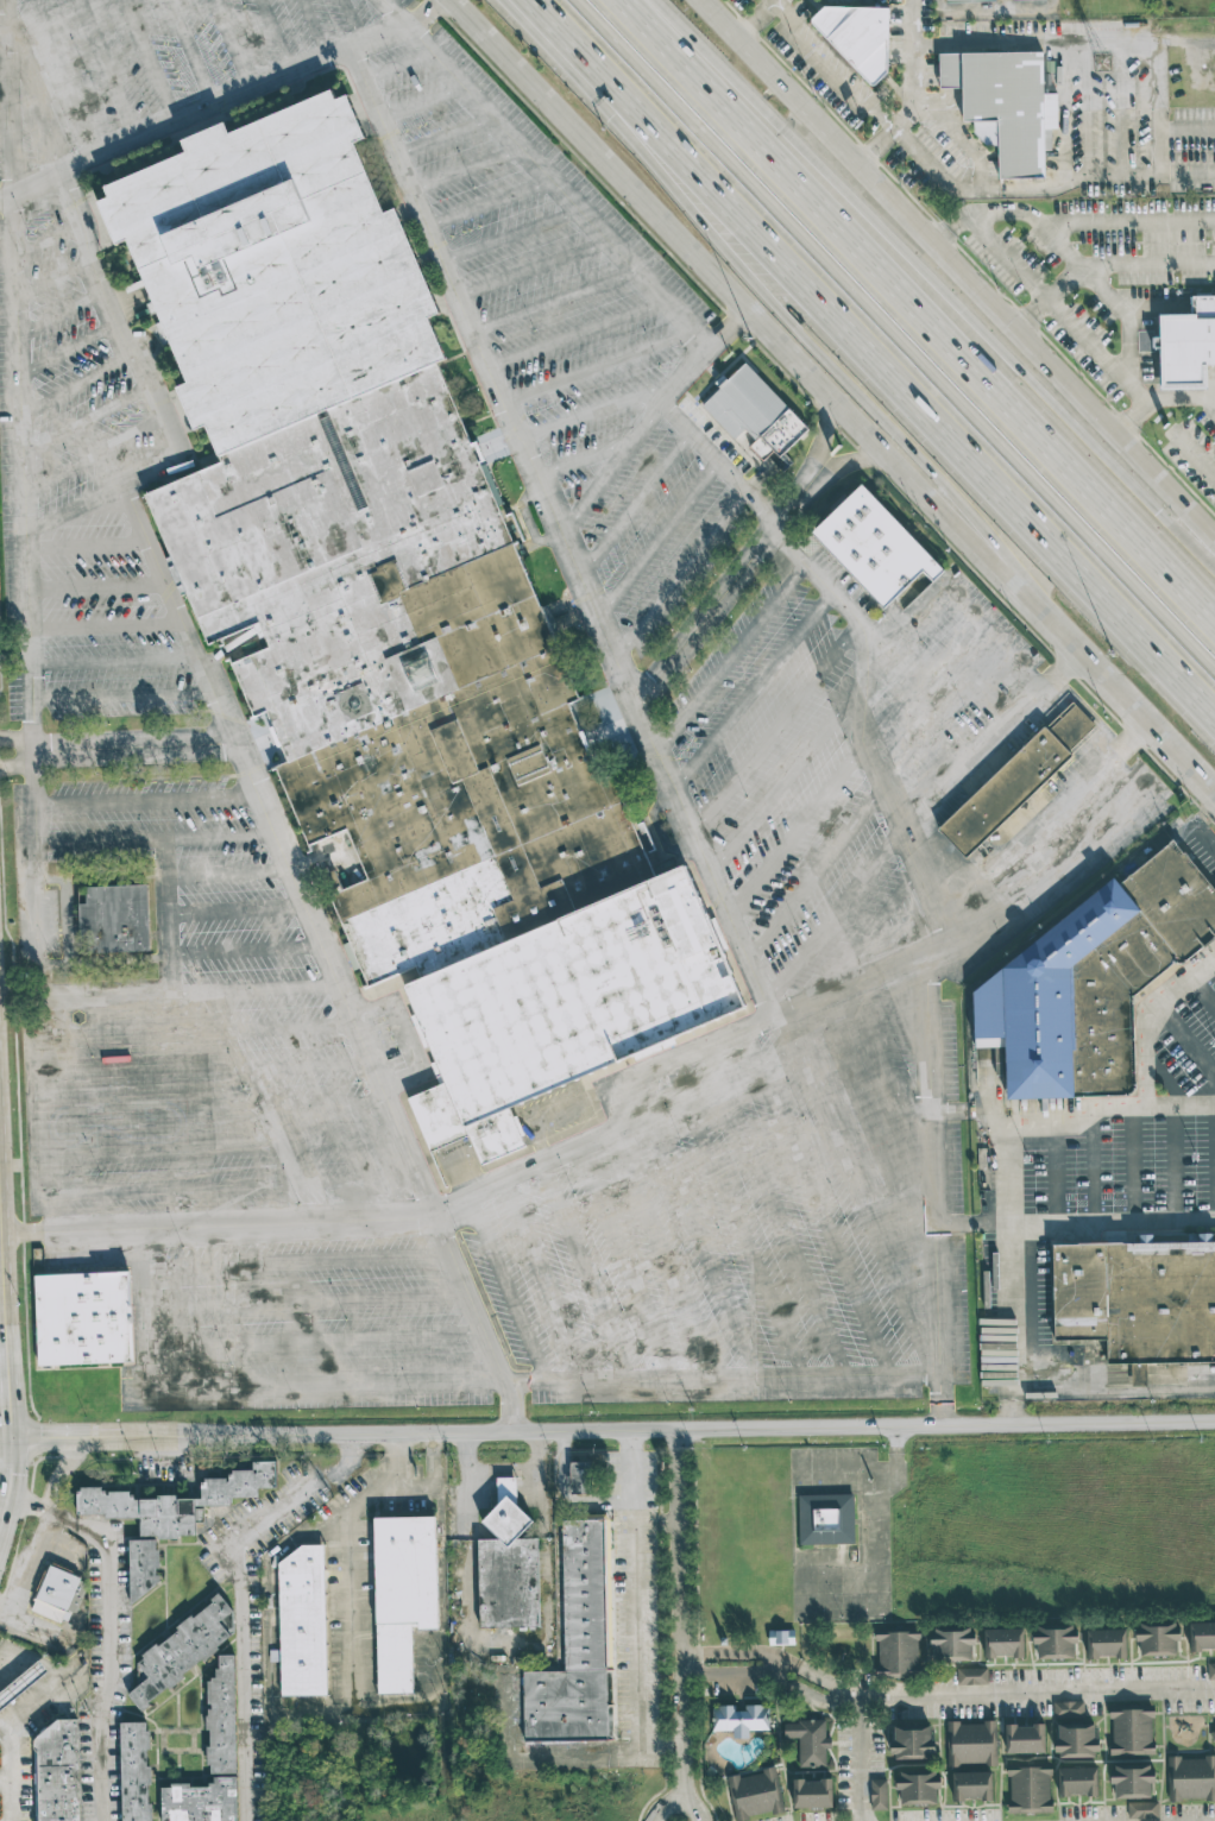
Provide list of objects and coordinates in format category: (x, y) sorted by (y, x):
building: (965, 0)
building: (1022, 0)
road: (774, 5)
road: (395, 12)
road: (718, 19)
road: (351, 21)
road: (313, 29)
road: (2, 31)
building: (856, 34)
road: (275, 36)
road: (987, 39)
road: (1153, 39)
road: (233, 44)
road: (562, 48)
road: (189, 51)
road: (147, 59)
power tower: (1102, 62)
road: (396, 64)
road: (106, 68)
road: (65, 75)
road: (833, 82)
road: (33, 101)
road: (421, 102)
building: (1003, 111)
road: (1188, 132)
road: (443, 137)
road: (920, 152)
road: (465, 170)
road: (1184, 176)
road: (30, 185)
road: (487, 202)
road: (510, 237)
road: (48, 240)
road: (531, 269)
building: (273, 271)
road: (932, 273)
road: (51, 279)
road: (980, 283)
road: (726, 288)
road: (553, 301)
road: (925, 305)
road: (1104, 309)
road: (58, 315)
road: (728, 329)
road: (575, 334)
road: (807, 335)
road: (895, 338)
building: (1188, 346)
road: (65, 349)
road: (1104, 355)
road: (597, 367)
road: (18, 374)
road: (78, 383)
road: (1162, 399)
road: (1211, 402)
road: (600, 407)
building: (754, 414)
road: (912, 416)
road: (86, 418)
road: (700, 443)
road: (820, 446)
road: (94, 455)
road: (584, 456)
road: (846, 465)
road: (610, 468)
road: (634, 504)
road: (74, 508)
road: (560, 531)
road: (656, 540)
road: (86, 544)
building: (874, 547)
road: (679, 575)
road: (95, 586)
road: (957, 599)
road: (717, 600)
road: (106, 625)
road: (15, 651)
road: (730, 659)
road: (113, 661)
road: (1070, 669)
building: (403, 675)
road: (923, 682)
road: (1110, 683)
road: (753, 691)
road: (122, 694)
road: (945, 718)
road: (775, 727)
building: (1070, 727)
road: (17, 742)
road: (136, 746)
road: (245, 757)
road: (982, 760)
road: (18, 762)
parking lot: (467, 765)
road: (787, 775)
building: (1003, 792)
road: (33, 796)
road: (147, 800)
road: (1049, 821)
road: (797, 831)
road: (220, 837)
road: (99, 840)
road: (228, 874)
road: (816, 874)
road: (238, 909)
road: (835, 916)
building: (114, 919)
road: (38, 920)
road: (871, 931)
road: (246, 950)
road: (256, 988)
road: (159, 991)
building: (1102, 991)
road: (1202, 996)
building: (564, 1006)
road: (1154, 1022)
road: (284, 1028)
road: (407, 1038)
road: (1186, 1044)
road: (298, 1066)
road: (226, 1069)
road: (892, 1079)
road: (313, 1104)
road: (1072, 1115)
road: (46, 1119)
road: (874, 1140)
parking lot: (1140, 1141)
road: (225, 1147)
road: (1172, 1167)
road: (1214, 1167)
road: (1131, 1168)
road: (1055, 1170)
road: (1090, 1170)
road: (234, 1186)
road: (933, 1187)
road: (856, 1193)
road: (816, 1202)
road: (0, 1208)
road: (775, 1210)
road: (737, 1218)
road: (1074, 1224)
road: (219, 1230)
road: (699, 1241)
road: (663, 1254)
road: (296, 1260)
road: (624, 1262)
road: (583, 1271)
road: (1012, 1271)
road: (2, 1273)
road: (543, 1279)
road: (506, 1288)
road: (307, 1300)
building: (1137, 1300)
road: (7, 1313)
road: (4, 1316)
building: (83, 1318)
road: (146, 1318)
road: (315, 1340)
road: (5, 1353)
road: (632, 1379)
road: (496, 1382)
road: (323, 1385)
road: (1115, 1390)
road: (512, 1405)
road: (6, 1409)
road: (613, 1428)
road: (397, 1458)
road: (440, 1460)
road: (7, 1464)
road: (59, 1472)
building: (579, 1476)
road: (877, 1483)
road: (24, 1501)
building: (175, 1501)
building: (825, 1518)
road: (470, 1542)
road: (879, 1562)
road: (29, 1563)
building: (141, 1565)
building: (508, 1565)
road: (684, 1590)
building: (56, 1593)
building: (402, 1594)
road: (640, 1594)
building: (593, 1595)
road: (241, 1601)
parking lot: (641, 1607)
road: (348, 1612)
building: (302, 1621)
road: (31, 1624)
building: (1202, 1636)
building: (780, 1637)
building: (1157, 1637)
building: (1053, 1639)
building: (1002, 1642)
building: (951, 1643)
building: (1106, 1643)
road: (107, 1647)
building: (183, 1650)
building: (896, 1653)
road: (741, 1658)
building: (1210, 1670)
building: (971, 1675)
road: (1000, 1699)
building: (571, 1706)
road: (359, 1709)
building: (221, 1718)
building: (739, 1719)
building: (1072, 1731)
building: (1131, 1732)
building: (1213, 1734)
building: (1024, 1738)
building: (808, 1740)
building: (912, 1741)
building: (970, 1743)
road: (546, 1759)
road: (860, 1760)
building: (133, 1771)
building: (56, 1772)
road: (10, 1773)
road: (686, 1777)
building: (1190, 1777)
building: (1131, 1778)
road: (5, 1779)
building: (1077, 1781)
building: (971, 1785)
building: (918, 1787)
building: (1028, 1789)
building: (811, 1792)
building: (753, 1794)
building: (877, 1794)
road: (681, 1800)
building: (200, 1801)
building: (1141, 1809)

